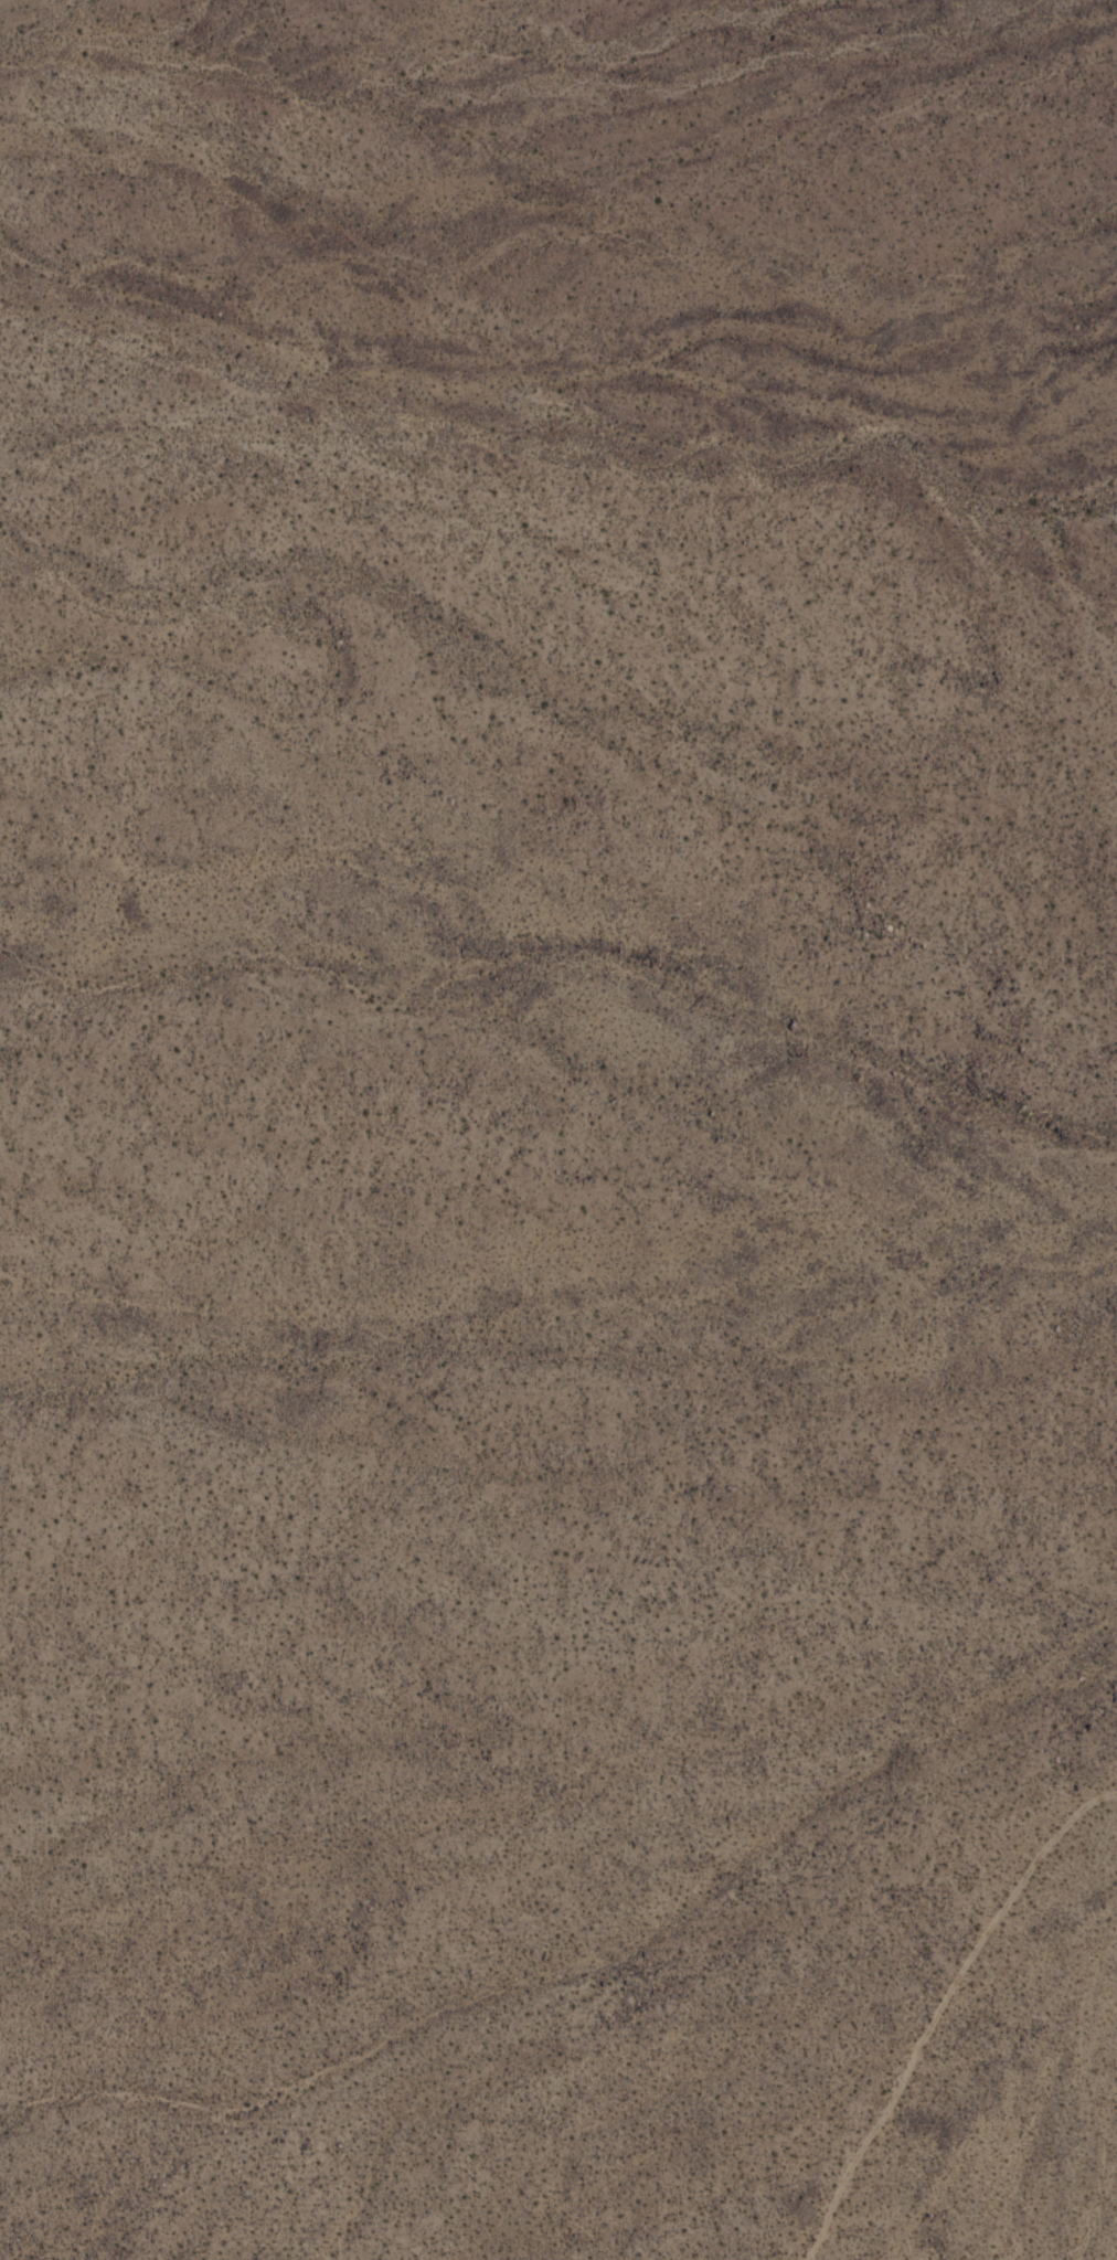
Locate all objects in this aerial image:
road: (938, 2006)

